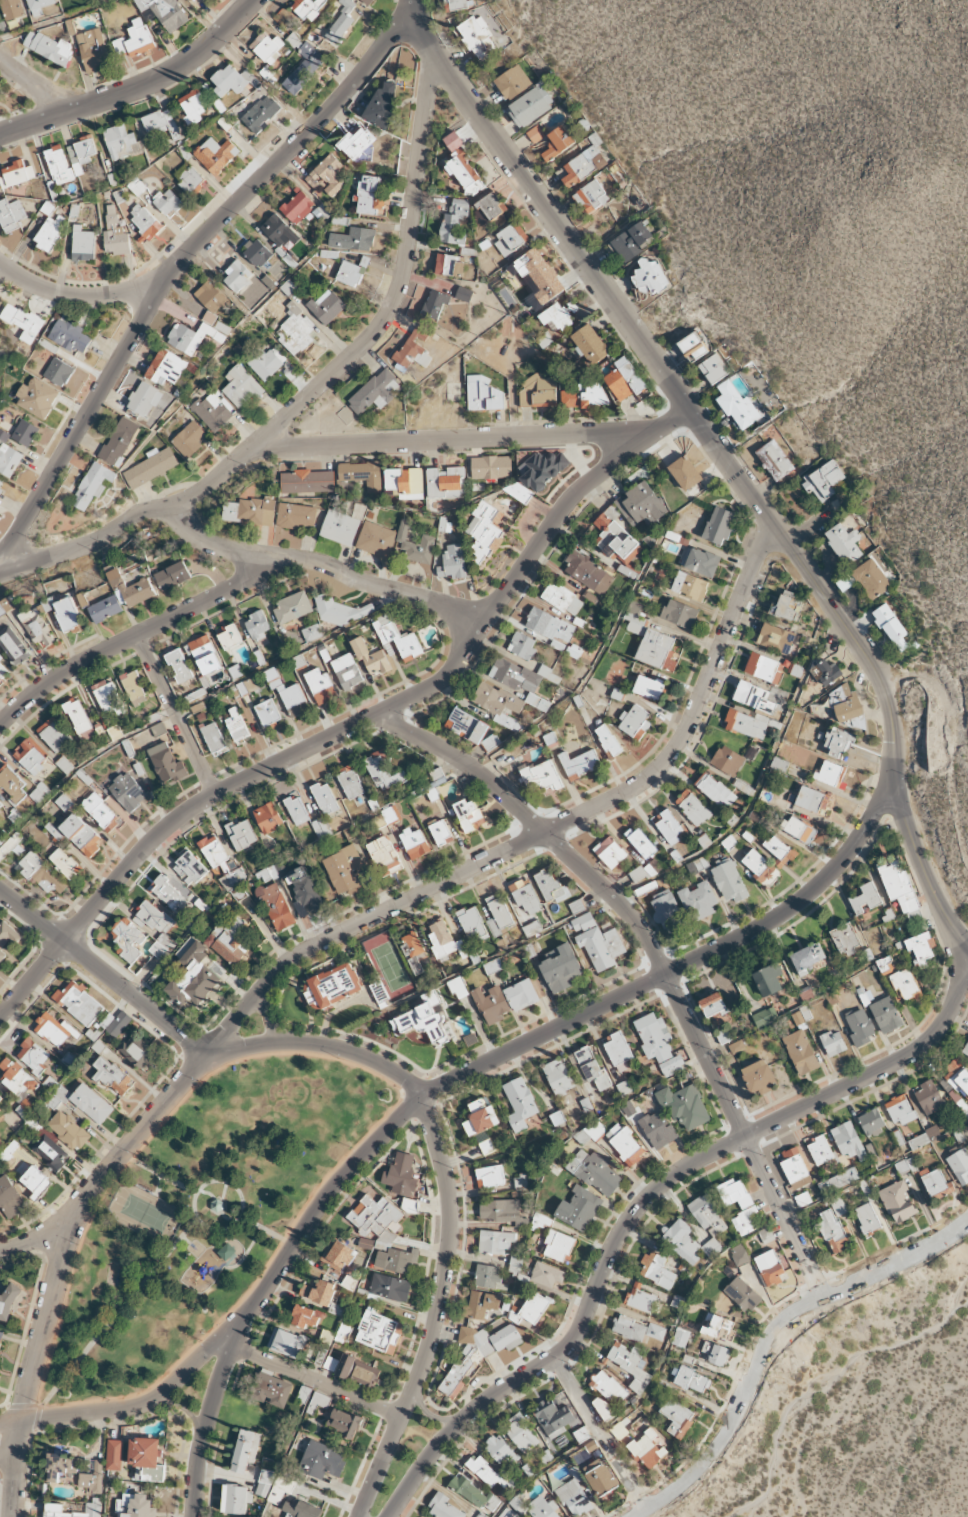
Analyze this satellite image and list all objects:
building: (193, 0)
building: (205, 0)
building: (368, 1)
building: (456, 3)
building: (39, 6)
building: (308, 7)
building: (11, 9)
building: (165, 12)
road: (56, 19)
building: (341, 23)
building: (477, 37)
building: (134, 39)
building: (267, 47)
building: (49, 48)
building: (93, 49)
building: (304, 68)
building: (232, 80)
building: (512, 82)
road: (32, 85)
road: (138, 87)
building: (382, 102)
building: (530, 105)
building: (193, 106)
building: (260, 113)
building: (161, 123)
building: (535, 134)
building: (121, 142)
building: (557, 142)
building: (356, 143)
building: (81, 153)
building: (216, 155)
building: (584, 163)
building: (58, 165)
building: (462, 165)
building: (17, 174)
building: (328, 175)
building: (370, 196)
building: (591, 196)
building: (168, 202)
building: (492, 205)
building: (297, 206)
building: (11, 215)
building: (145, 221)
building: (453, 223)
building: (280, 232)
building: (48, 233)
building: (115, 236)
building: (510, 238)
building: (353, 239)
building: (631, 240)
building: (83, 244)
building: (257, 253)
road: (175, 264)
building: (449, 264)
road: (1, 267)
building: (535, 268)
building: (350, 273)
building: (237, 276)
building: (649, 278)
road: (73, 293)
building: (464, 294)
building: (210, 296)
building: (435, 303)
building: (327, 306)
building: (555, 318)
building: (23, 321)
building: (214, 322)
building: (296, 331)
building: (70, 335)
building: (192, 337)
building: (590, 344)
building: (692, 347)
building: (414, 350)
building: (265, 361)
building: (167, 367)
building: (713, 369)
building: (59, 372)
building: (623, 379)
road: (317, 385)
building: (240, 386)
building: (537, 391)
building: (375, 392)
building: (483, 394)
building: (583, 396)
building: (37, 397)
building: (144, 399)
building: (736, 405)
building: (212, 411)
building: (25, 433)
building: (189, 439)
road: (445, 440)
building: (119, 441)
building: (9, 459)
building: (774, 459)
road: (724, 460)
building: (491, 466)
building: (151, 467)
building: (543, 468)
building: (684, 473)
building: (362, 474)
building: (824, 479)
building: (307, 481)
building: (405, 482)
building: (446, 482)
building: (1, 484)
building: (93, 485)
building: (641, 505)
building: (250, 511)
building: (296, 516)
building: (719, 525)
building: (340, 527)
building: (484, 530)
building: (376, 539)
building: (844, 543)
building: (413, 545)
building: (700, 561)
building: (453, 562)
road: (325, 563)
building: (587, 571)
building: (173, 576)
building: (871, 578)
building: (690, 586)
building: (138, 591)
building: (562, 598)
building: (7, 605)
building: (786, 606)
building: (293, 607)
building: (105, 609)
building: (679, 613)
building: (67, 614)
building: (258, 624)
building: (549, 625)
building: (891, 626)
building: (38, 627)
building: (310, 634)
road: (135, 637)
building: (397, 637)
building: (776, 638)
building: (230, 639)
building: (650, 639)
building: (13, 645)
building: (522, 646)
building: (204, 654)
building: (1, 657)
building: (370, 657)
building: (179, 666)
building: (764, 668)
building: (2, 671)
building: (347, 671)
building: (825, 671)
building: (519, 681)
building: (320, 686)
building: (648, 687)
building: (134, 688)
building: (288, 693)
building: (753, 697)
building: (107, 698)
building: (498, 703)
building: (847, 703)
building: (267, 712)
building: (78, 716)
road: (176, 716)
building: (634, 720)
road: (356, 724)
building: (747, 724)
building: (237, 726)
building: (466, 726)
building: (54, 734)
building: (213, 737)
building: (608, 740)
building: (839, 741)
building: (29, 756)
building: (727, 760)
building: (580, 763)
building: (166, 764)
building: (779, 764)
building: (382, 772)
building: (831, 775)
building: (541, 777)
building: (350, 781)
building: (435, 783)
building: (12, 784)
building: (715, 790)
building: (127, 791)
building: (325, 798)
building: (813, 800)
building: (0, 805)
building: (693, 807)
building: (296, 810)
building: (100, 811)
building: (469, 814)
building: (385, 817)
building: (268, 818)
building: (668, 825)
building: (321, 828)
building: (798, 829)
building: (441, 833)
building: (81, 834)
building: (242, 834)
road: (541, 834)
building: (641, 842)
building: (414, 843)
building: (213, 850)
building: (780, 851)
building: (610, 852)
building: (384, 856)
building: (65, 863)
building: (190, 868)
building: (761, 868)
building: (345, 870)
building: (642, 872)
building: (40, 873)
building: (729, 880)
building: (552, 886)
building: (899, 888)
building: (304, 891)
building: (170, 895)
building: (525, 896)
building: (865, 898)
building: (698, 901)
building: (276, 906)
building: (668, 910)
building: (498, 915)
building: (472, 924)
building: (156, 928)
building: (215, 934)
building: (6, 937)
building: (129, 939)
building: (846, 939)
building: (444, 940)
building: (598, 942)
building: (232, 943)
building: (412, 945)
building: (920, 948)
building: (807, 959)
road: (659, 961)
road: (680, 968)
building: (561, 969)
road: (103, 972)
building: (193, 974)
building: (773, 979)
building: (331, 980)
building: (905, 983)
building: (521, 995)
building: (79, 1003)
building: (491, 1004)
building: (713, 1005)
building: (886, 1015)
road: (269, 1018)
building: (423, 1019)
building: (115, 1023)
building: (859, 1026)
building: (53, 1030)
building: (655, 1037)
building: (833, 1043)
building: (736, 1046)
road: (320, 1048)
building: (965, 1049)
building: (138, 1051)
building: (619, 1052)
building: (800, 1052)
building: (33, 1056)
building: (588, 1067)
road: (371, 1073)
building: (112, 1076)
building: (558, 1077)
building: (758, 1077)
building: (958, 1077)
building: (18, 1085)
building: (928, 1097)
building: (0, 1099)
building: (520, 1104)
building: (684, 1106)
building: (900, 1110)
building: (480, 1117)
building: (871, 1122)
building: (654, 1126)
building: (68, 1130)
building: (591, 1132)
road: (132, 1141)
building: (849, 1141)
building: (625, 1144)
building: (819, 1149)
building: (51, 1152)
building: (960, 1165)
building: (795, 1168)
building: (595, 1172)
road: (159, 1173)
building: (401, 1175)
building: (490, 1175)
building: (36, 1181)
building: (838, 1181)
building: (937, 1183)
road: (158, 1185)
road: (222, 1193)
building: (10, 1198)
road: (649, 1198)
building: (898, 1201)
building: (745, 1203)
building: (835, 1204)
building: (217, 1205)
road: (217, 1205)
building: (579, 1208)
park: (146, 1210)
building: (502, 1211)
road: (316, 1214)
building: (708, 1214)
building: (374, 1215)
road: (197, 1217)
park: (202, 1219)
building: (867, 1219)
building: (832, 1229)
road: (266, 1230)
road: (183, 1238)
building: (681, 1240)
road: (34, 1241)
building: (496, 1241)
road: (900, 1241)
building: (558, 1245)
road: (244, 1252)
building: (739, 1254)
building: (339, 1256)
building: (398, 1260)
building: (516, 1262)
building: (769, 1268)
building: (657, 1270)
building: (548, 1275)
building: (487, 1276)
road: (816, 1283)
building: (390, 1288)
building: (318, 1292)
building: (742, 1294)
building: (640, 1298)
building: (8, 1304)
building: (481, 1304)
road: (117, 1309)
building: (532, 1309)
road: (432, 1310)
building: (305, 1316)
building: (718, 1326)
building: (629, 1328)
road: (44, 1329)
building: (655, 1331)
building: (379, 1332)
building: (1, 1336)
building: (680, 1337)
building: (491, 1338)
road: (772, 1338)
building: (286, 1342)
building: (716, 1353)
building: (630, 1365)
building: (345, 1366)
building: (460, 1371)
building: (365, 1375)
road: (317, 1380)
building: (692, 1380)
building: (608, 1387)
road: (822, 1387)
building: (272, 1390)
road: (728, 1391)
building: (303, 1395)
building: (318, 1401)
road: (38, 1405)
road: (135, 1407)
building: (603, 1408)
road: (186, 1409)
park: (859, 1412)
road: (431, 1414)
building: (677, 1416)
building: (554, 1418)
building: (344, 1422)
road: (10, 1424)
building: (621, 1428)
road: (205, 1429)
building: (521, 1433)
building: (581, 1434)
road: (602, 1434)
road: (8, 1445)
building: (647, 1449)
building: (245, 1450)
building: (501, 1450)
building: (114, 1455)
building: (146, 1459)
building: (322, 1460)
building: (62, 1468)
road: (15, 1469)
building: (489, 1473)
building: (266, 1479)
building: (601, 1479)
building: (285, 1482)
building: (473, 1493)
building: (574, 1495)
road: (637, 1495)
building: (236, 1499)
building: (134, 1506)
building: (443, 1507)
building: (536, 1507)
building: (54, 1508)
road: (617, 1508)
building: (302, 1510)
building: (508, 1513)
building: (481, 1515)

